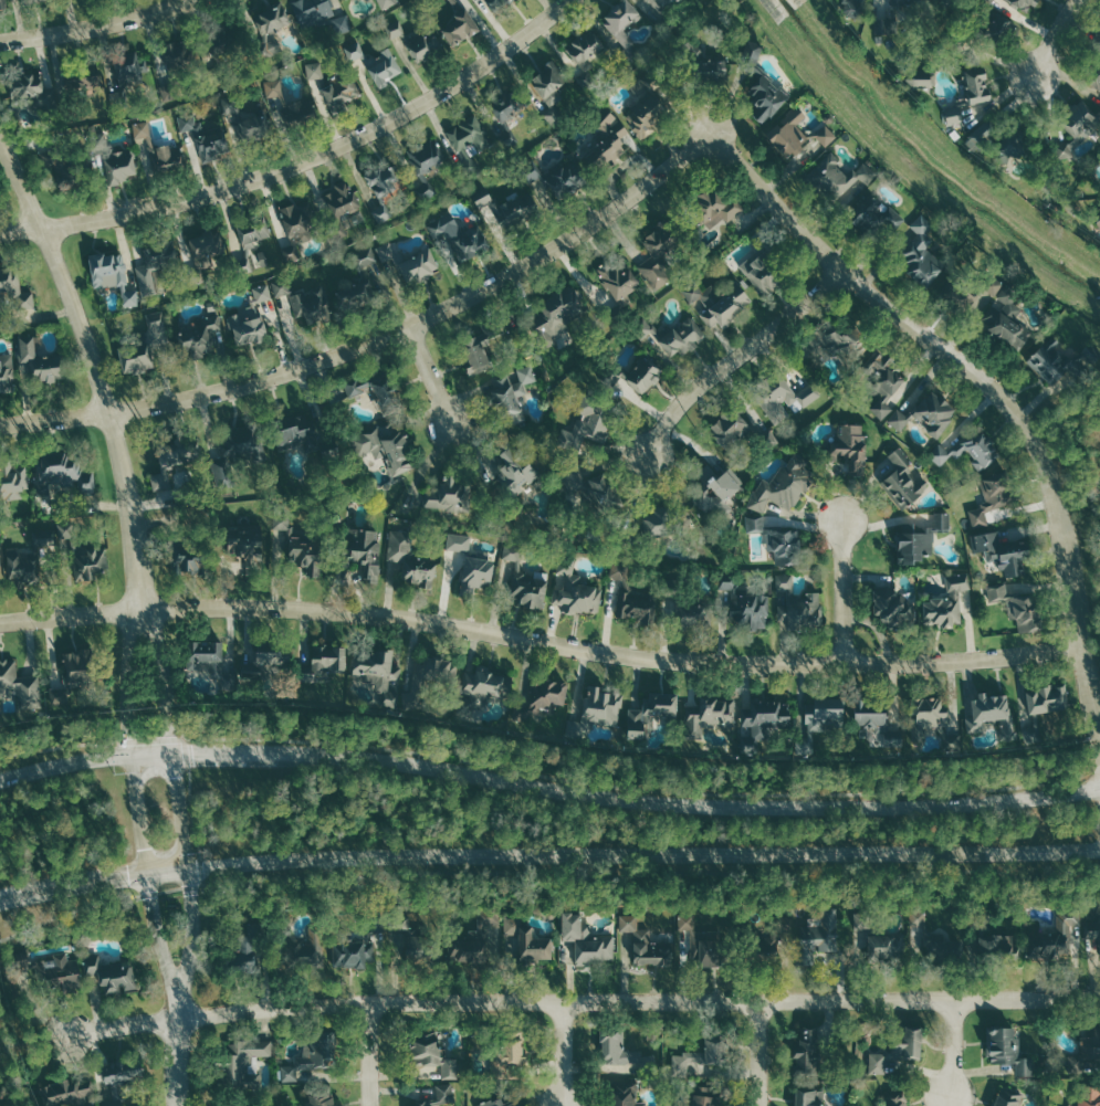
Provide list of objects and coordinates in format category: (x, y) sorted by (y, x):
building: (36, 0)
building: (987, 1)
building: (945, 2)
building: (2, 3)
building: (388, 3)
building: (499, 3)
building: (904, 3)
building: (1022, 3)
building: (851, 8)
building: (313, 10)
building: (663, 15)
building: (889, 23)
building: (343, 24)
building: (459, 24)
road: (94, 27)
building: (622, 27)
building: (1099, 28)
building: (272, 29)
building: (989, 31)
road: (1055, 38)
building: (416, 40)
building: (1099, 40)
building: (583, 49)
building: (216, 51)
building: (172, 54)
building: (376, 62)
building: (706, 63)
building: (1093, 69)
building: (129, 71)
building: (921, 76)
building: (87, 82)
building: (335, 83)
building: (28, 85)
building: (763, 85)
building: (548, 87)
building: (967, 91)
building: (293, 108)
building: (507, 112)
building: (647, 114)
building: (249, 124)
building: (1076, 125)
building: (206, 136)
building: (798, 136)
building: (983, 138)
building: (1013, 140)
building: (607, 143)
building: (461, 147)
building: (157, 148)
road: (303, 162)
building: (425, 162)
building: (69, 165)
building: (116, 165)
building: (558, 176)
building: (839, 176)
building: (385, 186)
building: (484, 201)
building: (343, 206)
building: (517, 208)
building: (715, 208)
building: (1098, 217)
building: (877, 218)
building: (297, 228)
building: (461, 236)
building: (249, 244)
building: (203, 250)
building: (387, 252)
building: (921, 254)
building: (157, 257)
building: (658, 259)
building: (420, 266)
building: (762, 273)
building: (112, 274)
building: (363, 278)
building: (619, 280)
building: (282, 287)
building: (15, 289)
building: (263, 293)
building: (720, 302)
building: (313, 306)
building: (998, 312)
building: (557, 315)
building: (248, 325)
building: (648, 327)
building: (683, 337)
building: (203, 338)
road: (378, 340)
building: (844, 340)
building: (147, 345)
building: (476, 355)
road: (741, 355)
building: (1052, 360)
building: (40, 361)
road: (94, 368)
building: (7, 373)
building: (641, 373)
road: (433, 376)
building: (882, 381)
road: (986, 382)
building: (512, 396)
building: (784, 399)
building: (935, 413)
building: (900, 420)
building: (587, 428)
building: (730, 428)
building: (295, 433)
building: (386, 446)
building: (851, 449)
building: (237, 455)
building: (175, 461)
building: (515, 470)
building: (66, 476)
building: (13, 481)
building: (903, 481)
building: (784, 485)
building: (603, 494)
building: (449, 496)
building: (994, 499)
building: (656, 520)
building: (282, 523)
building: (756, 524)
building: (921, 538)
building: (247, 543)
building: (459, 543)
building: (784, 545)
building: (303, 551)
building: (1005, 551)
building: (364, 552)
building: (410, 560)
building: (30, 561)
building: (91, 565)
building: (186, 566)
building: (475, 575)
building: (524, 580)
road: (845, 590)
building: (998, 590)
building: (576, 591)
building: (632, 596)
building: (946, 603)
building: (799, 604)
building: (892, 608)
building: (1024, 611)
building: (692, 613)
road: (543, 641)
building: (206, 657)
building: (269, 661)
building: (76, 667)
building: (434, 673)
building: (325, 674)
building: (379, 675)
road: (132, 680)
building: (483, 688)
building: (546, 695)
building: (1047, 706)
building: (598, 712)
building: (652, 713)
building: (869, 714)
building: (711, 716)
building: (827, 716)
building: (993, 716)
building: (766, 718)
road: (178, 734)
building: (890, 737)
road: (147, 739)
road: (53, 746)
traffic signals: (179, 749)
traffic signals: (138, 751)
road: (189, 755)
road: (1092, 776)
road: (547, 787)
road: (635, 788)
road: (145, 811)
road: (191, 812)
road: (547, 852)
traffic signals: (189, 864)
road: (201, 870)
traffic signals: (149, 872)
road: (651, 875)
road: (170, 892)
road: (66, 910)
building: (919, 916)
building: (688, 920)
building: (404, 933)
building: (823, 935)
building: (474, 938)
building: (528, 938)
building: (1039, 938)
building: (587, 939)
road: (192, 941)
building: (1093, 941)
building: (646, 942)
road: (161, 946)
building: (887, 946)
building: (767, 947)
building: (709, 948)
building: (359, 951)
building: (21, 965)
building: (62, 970)
building: (114, 973)
road: (584, 1002)
building: (1092, 1045)
road: (954, 1049)
building: (807, 1050)
building: (1009, 1050)
building: (511, 1051)
building: (899, 1051)
building: (618, 1052)
road: (762, 1053)
road: (370, 1054)
road: (565, 1054)
building: (433, 1055)
building: (313, 1058)
building: (700, 1060)
road: (179, 1062)
building: (244, 1062)
building: (122, 1072)
building: (67, 1093)
building: (625, 1093)
building: (704, 1095)
building: (440, 1096)
building: (1089, 1096)
building: (1008, 1097)
building: (809, 1098)
building: (322, 1100)
building: (894, 1100)
building: (494, 1102)
building: (121, 1103)
building: (245, 1105)

